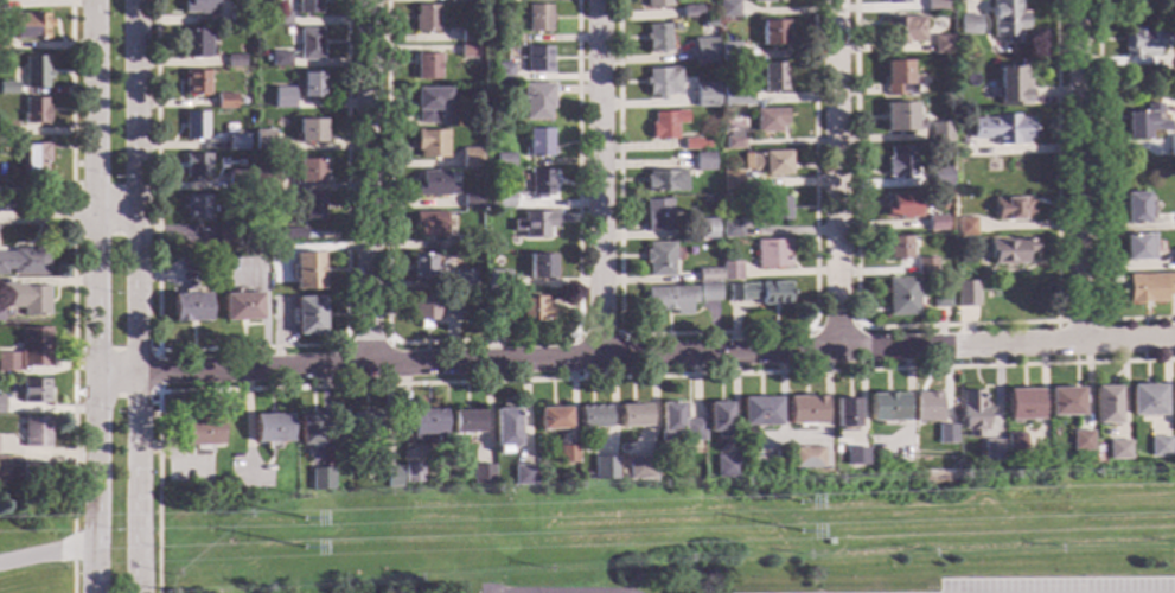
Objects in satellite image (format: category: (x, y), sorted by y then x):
building: (765, 0)
building: (458, 1)
building: (497, 1)
building: (894, 1)
building: (656, 4)
building: (933, 5)
building: (2, 6)
building: (199, 6)
building: (307, 6)
building: (727, 8)
building: (690, 12)
building: (237, 18)
building: (537, 18)
building: (279, 19)
building: (424, 19)
building: (1004, 20)
building: (707, 23)
building: (966, 25)
building: (30, 26)
building: (675, 27)
building: (901, 30)
building: (772, 32)
building: (468, 36)
building: (507, 37)
building: (657, 38)
building: (1142, 42)
building: (194, 44)
building: (308, 44)
building: (2, 45)
building: (940, 45)
building: (702, 50)
building: (468, 51)
building: (728, 52)
building: (279, 59)
building: (537, 60)
building: (235, 62)
building: (427, 66)
building: (36, 72)
building: (502, 72)
building: (773, 77)
building: (896, 79)
building: (662, 81)
building: (197, 83)
building: (311, 85)
building: (1009, 85)
building: (8, 89)
building: (704, 95)
building: (281, 97)
building: (736, 98)
building: (536, 101)
building: (225, 102)
building: (428, 103)
building: (36, 111)
building: (901, 117)
building: (768, 120)
building: (1141, 123)
building: (665, 125)
building: (194, 126)
road: (70, 129)
building: (1001, 129)
building: (7, 130)
building: (309, 132)
building: (938, 133)
building: (263, 141)
building: (537, 142)
building: (237, 144)
building: (432, 144)
building: (691, 144)
building: (733, 144)
building: (704, 145)
building: (1170, 146)
building: (471, 158)
building: (36, 159)
building: (503, 161)
building: (899, 161)
building: (702, 162)
building: (768, 162)
building: (197, 165)
road: (1077, 170)
building: (308, 171)
road: (835, 174)
building: (939, 177)
road: (599, 178)
building: (264, 179)
building: (729, 180)
building: (236, 181)
building: (664, 181)
road: (369, 183)
building: (539, 183)
building: (434, 185)
building: (705, 198)
road: (1097, 198)
building: (503, 200)
building: (472, 202)
building: (901, 205)
building: (197, 208)
building: (311, 208)
building: (1135, 208)
building: (777, 209)
building: (1010, 209)
road: (71, 210)
road: (70, 213)
building: (657, 216)
building: (934, 223)
building: (430, 224)
building: (534, 224)
building: (964, 227)
building: (704, 229)
building: (729, 230)
building: (226, 234)
building: (293, 234)
building: (465, 242)
building: (1136, 247)
building: (895, 248)
building: (1009, 250)
building: (260, 253)
building: (771, 254)
building: (1174, 256)
building: (658, 259)
building: (24, 261)
building: (422, 267)
building: (539, 267)
building: (924, 267)
building: (307, 270)
building: (729, 270)
road: (92, 273)
building: (282, 274)
building: (707, 275)
building: (466, 280)
building: (494, 281)
building: (1149, 287)
building: (707, 292)
building: (758, 293)
building: (965, 294)
road: (142, 295)
building: (901, 296)
building: (938, 298)
building: (25, 299)
building: (669, 300)
building: (453, 306)
building: (242, 307)
building: (190, 308)
building: (532, 310)
building: (424, 311)
building: (0, 314)
building: (309, 317)
building: (493, 317)
road: (1077, 320)
road: (956, 324)
road: (836, 327)
road: (713, 331)
road: (598, 334)
road: (479, 338)
road: (366, 343)
road: (245, 346)
building: (27, 351)
road: (633, 356)
road: (157, 370)
road: (564, 378)
building: (33, 391)
building: (1145, 401)
building: (1064, 402)
building: (0, 404)
building: (1104, 404)
building: (1021, 406)
building: (1173, 406)
building: (926, 407)
building: (885, 408)
building: (804, 412)
road: (72, 413)
building: (758, 413)
building: (845, 413)
building: (971, 413)
building: (632, 415)
building: (717, 416)
building: (553, 419)
building: (590, 419)
building: (466, 421)
building: (677, 423)
building: (365, 425)
building: (427, 425)
building: (272, 429)
building: (311, 429)
building: (505, 429)
building: (200, 431)
building: (33, 432)
building: (944, 434)
building: (538, 441)
building: (1080, 441)
building: (1014, 444)
building: (1158, 447)
building: (0, 448)
building: (991, 448)
building: (1116, 449)
building: (567, 454)
building: (854, 455)
building: (805, 457)
building: (2, 466)
building: (726, 466)
building: (604, 468)
building: (638, 468)
building: (413, 473)
building: (33, 474)
building: (483, 474)
building: (523, 476)
building: (392, 477)
building: (321, 479)
power tower: (802, 505)
power tower: (307, 522)
power tower: (804, 533)
road: (45, 548)
power tower: (308, 551)
road: (92, 569)
parking lot: (947, 585)
building: (255, 592)

